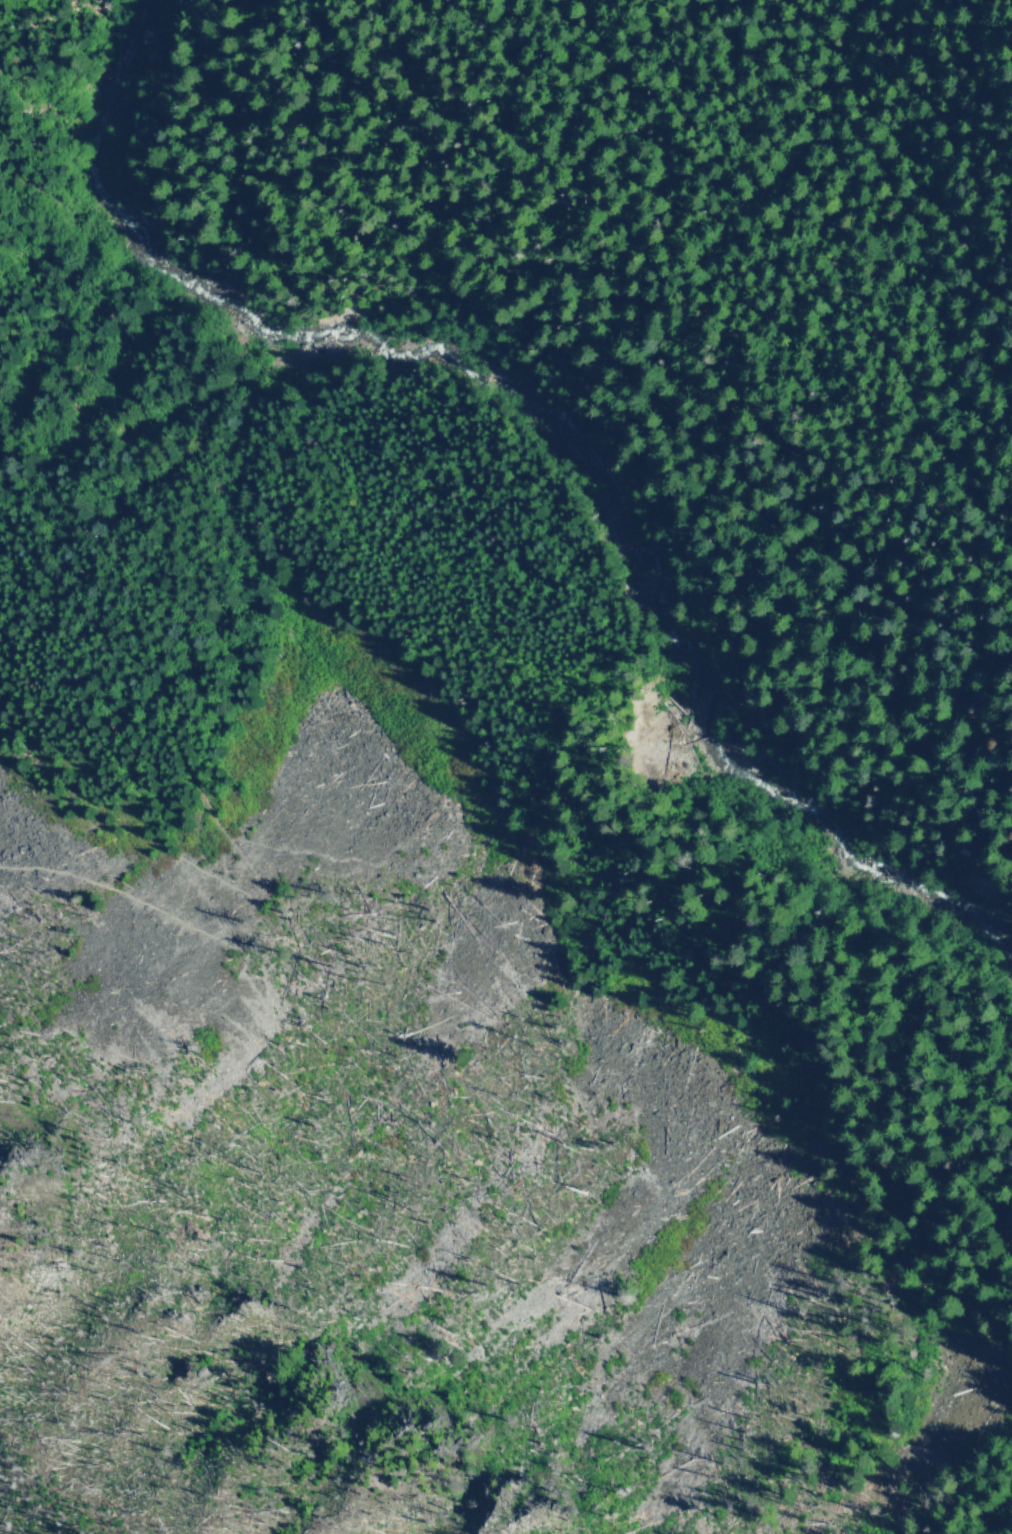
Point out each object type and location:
road: (272, 898)
road: (55, 1484)

